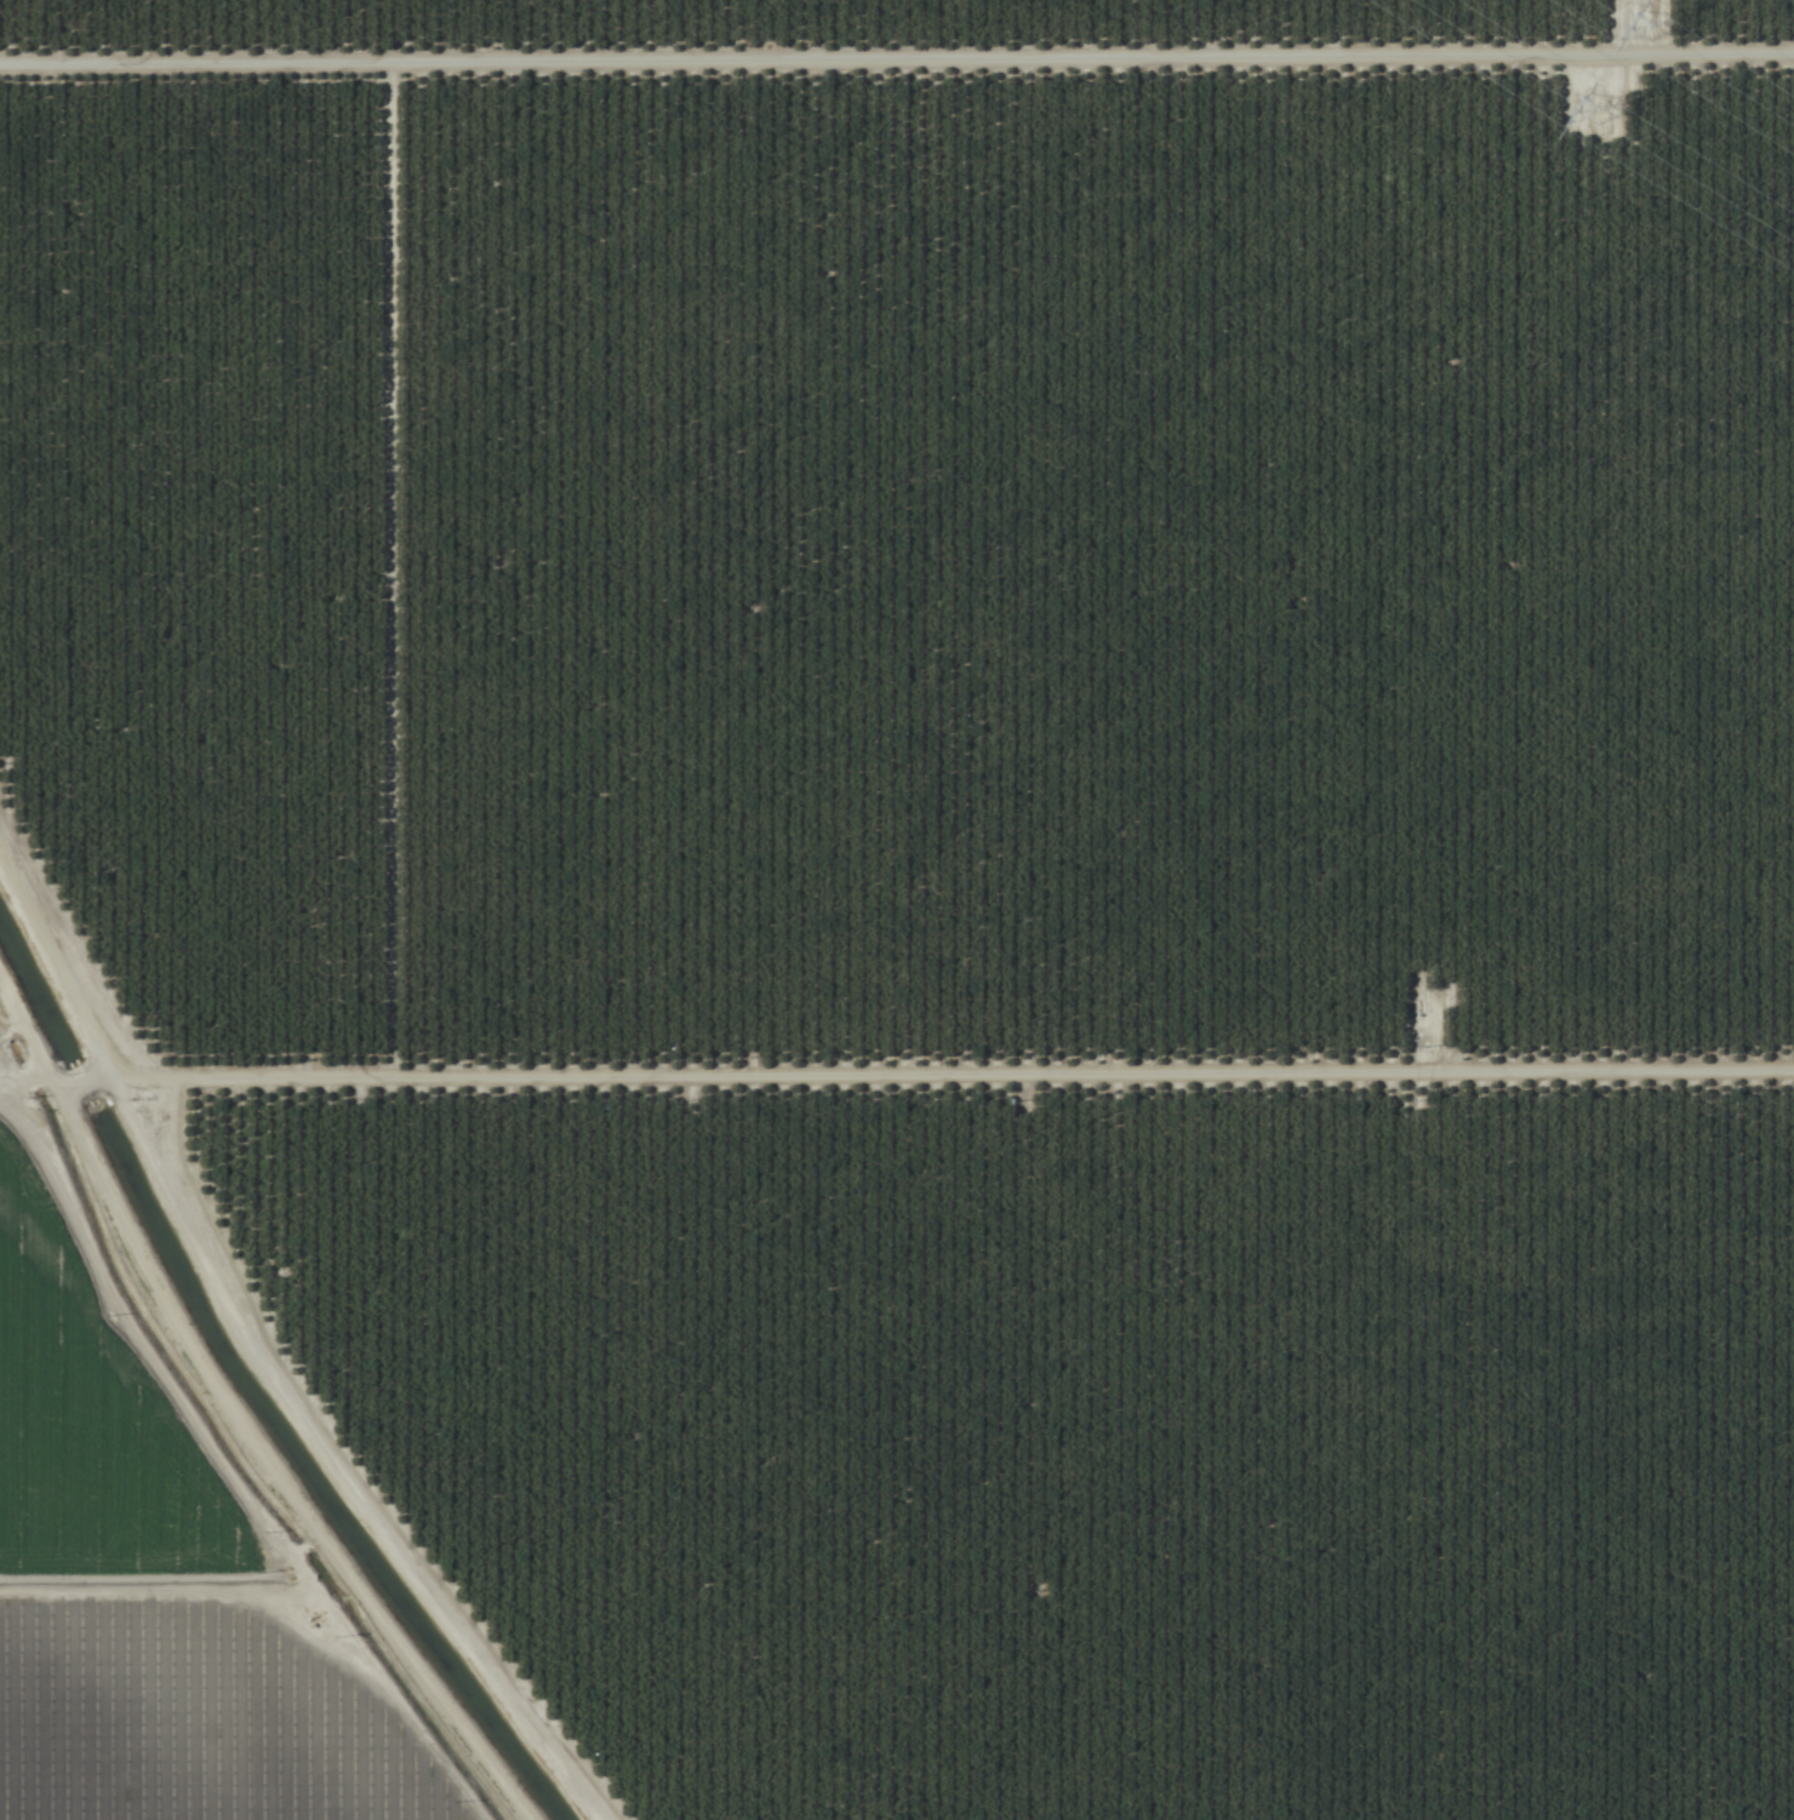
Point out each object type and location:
power tower: (1663, 28)
power tower: (1615, 111)
crop: (897, 910)
road: (15, 1065)
road: (767, 1110)
road: (221, 1467)

